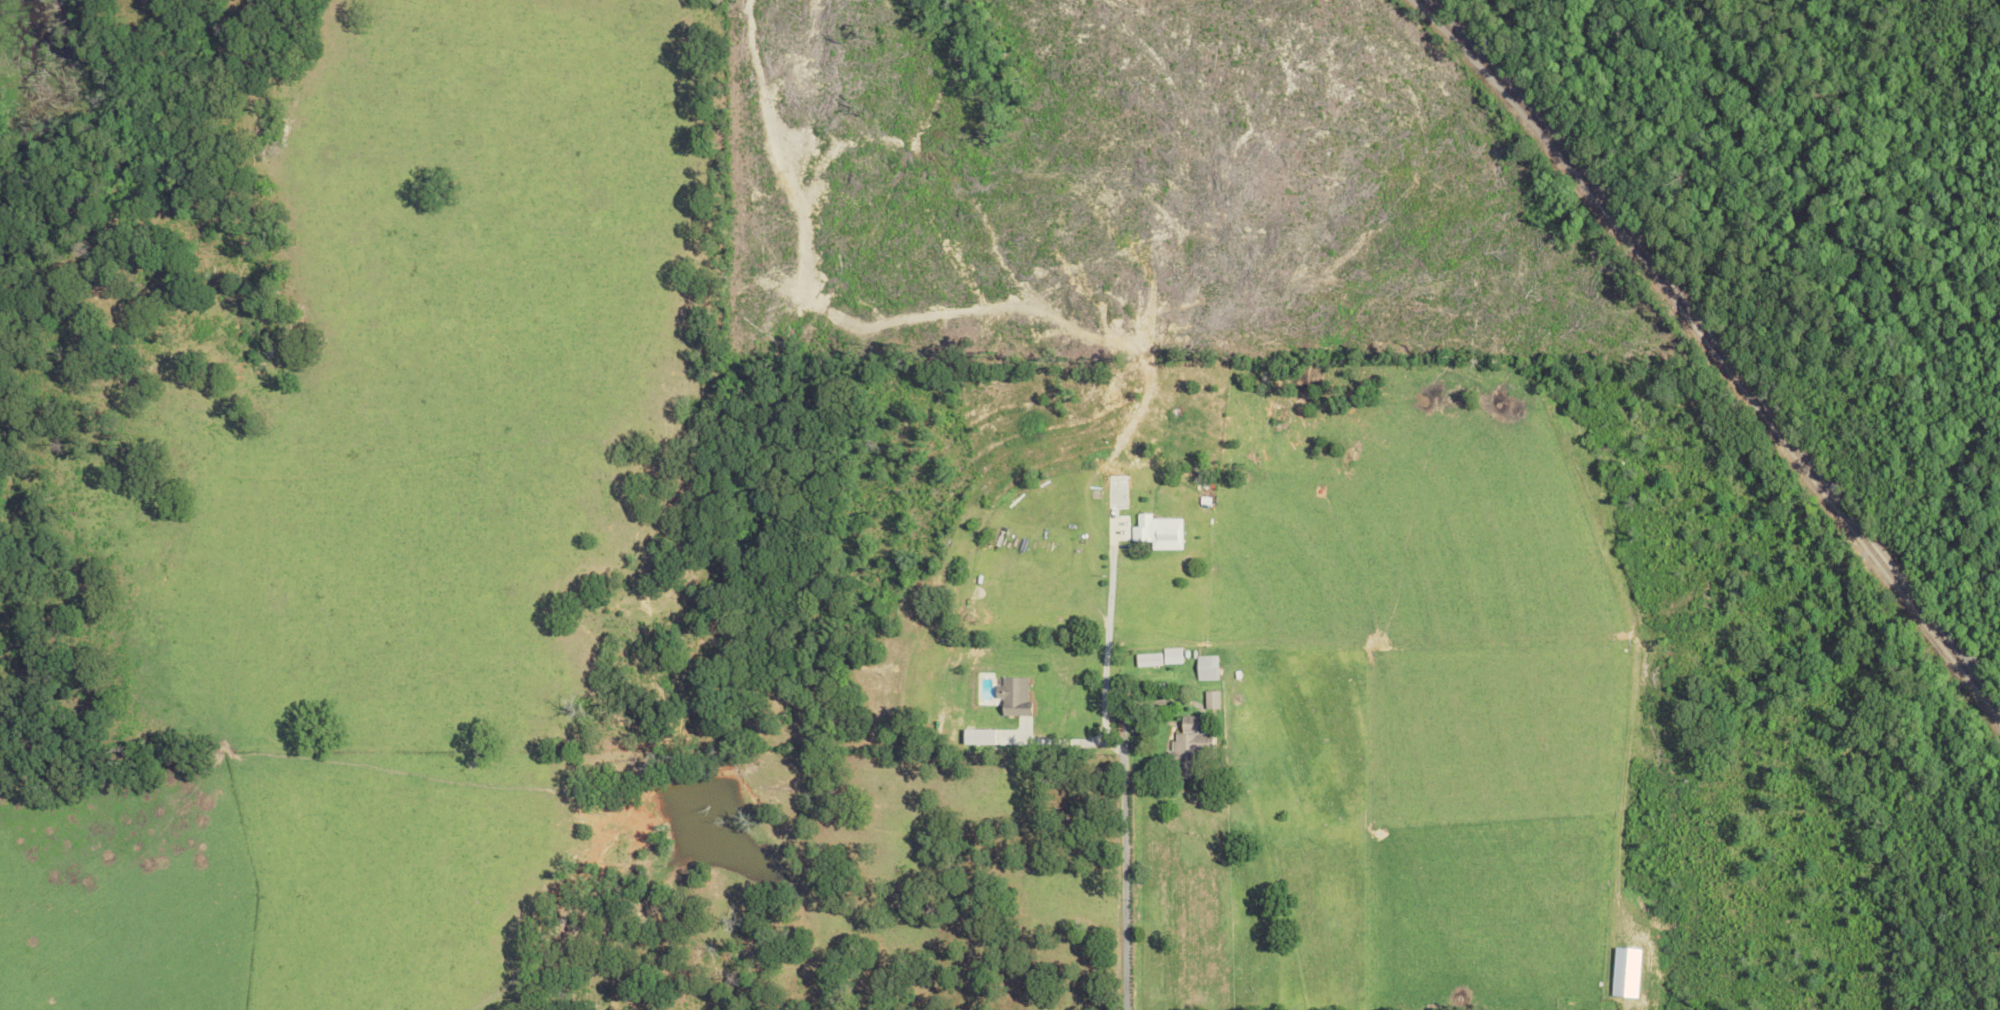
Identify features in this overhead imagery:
railway: (1714, 352)
building: (1156, 531)
road: (1104, 638)
building: (1169, 655)
building: (1145, 659)
building: (1204, 667)
building: (1012, 696)
building: (1209, 699)
building: (977, 736)
road: (1058, 740)
building: (1185, 747)
road: (1124, 871)

